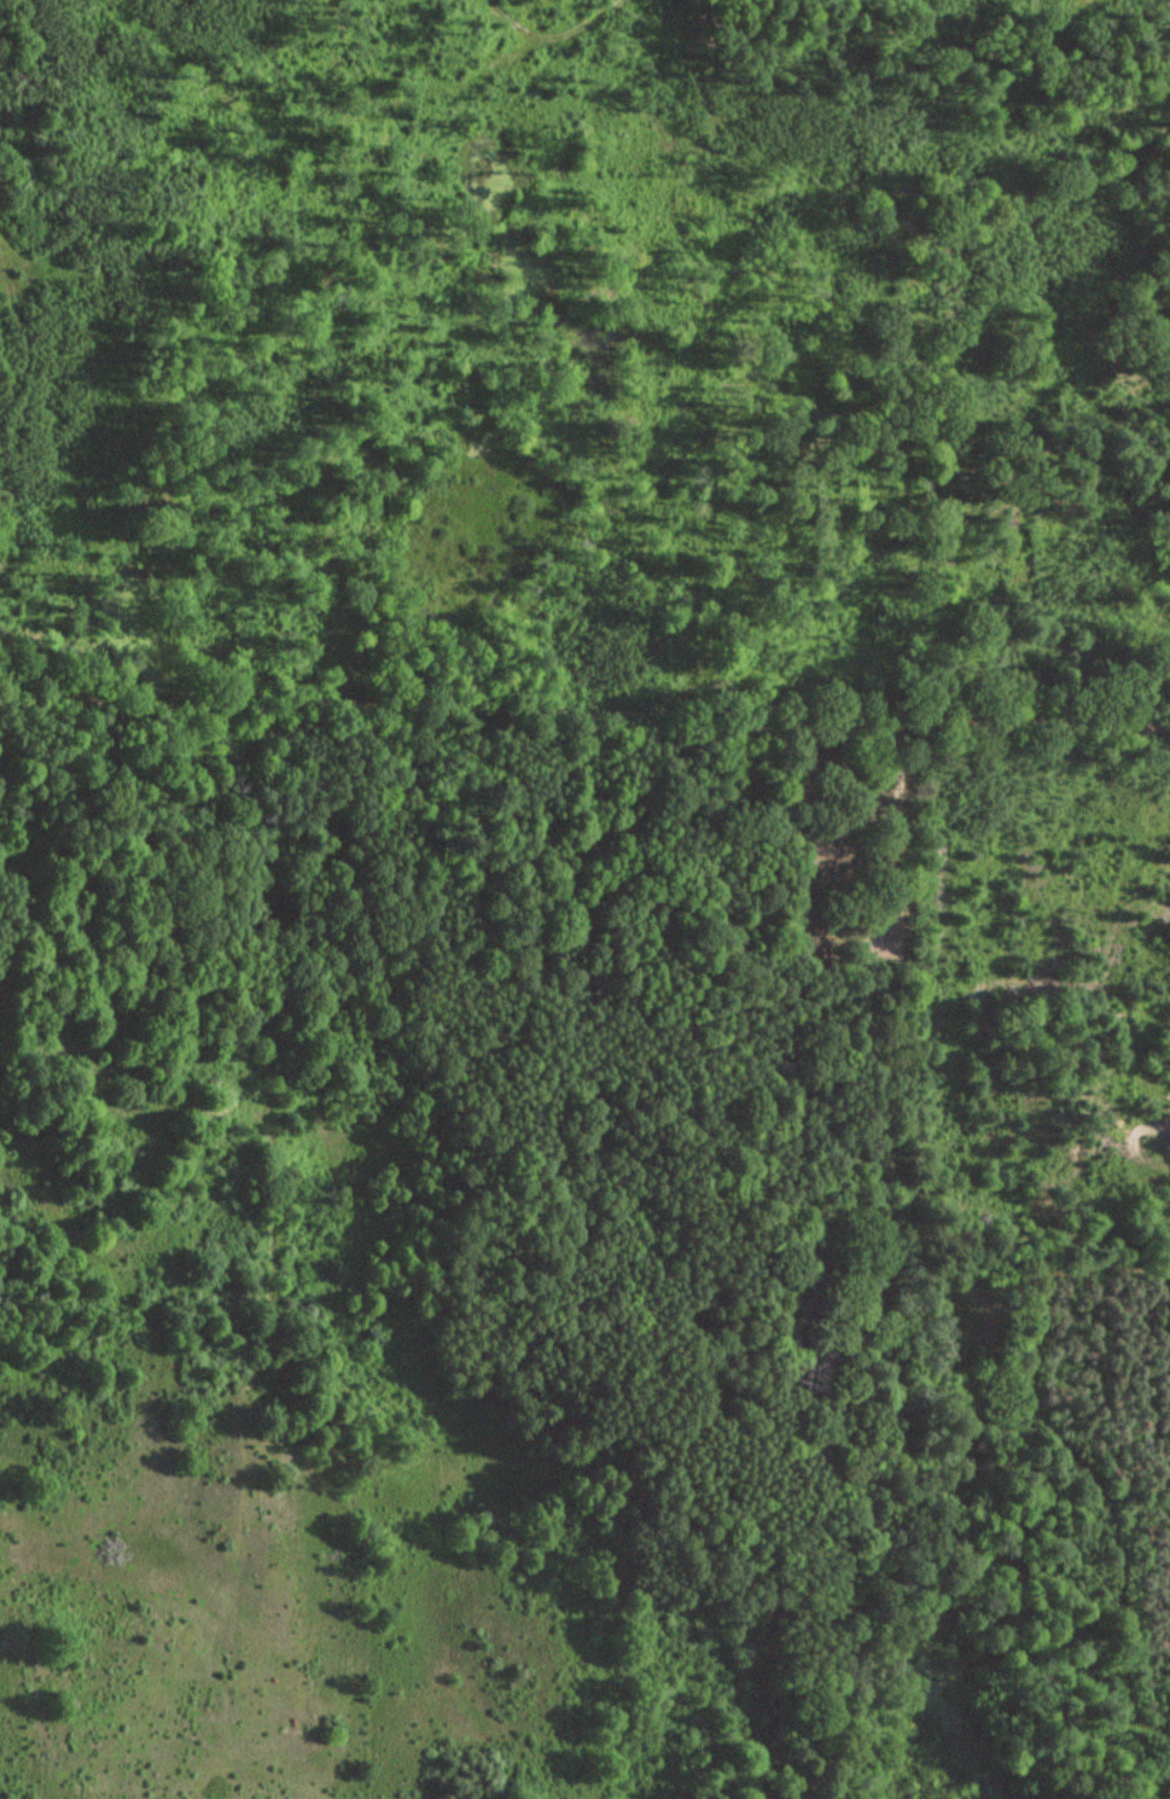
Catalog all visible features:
road: (584, 706)
park: (717, 848)

